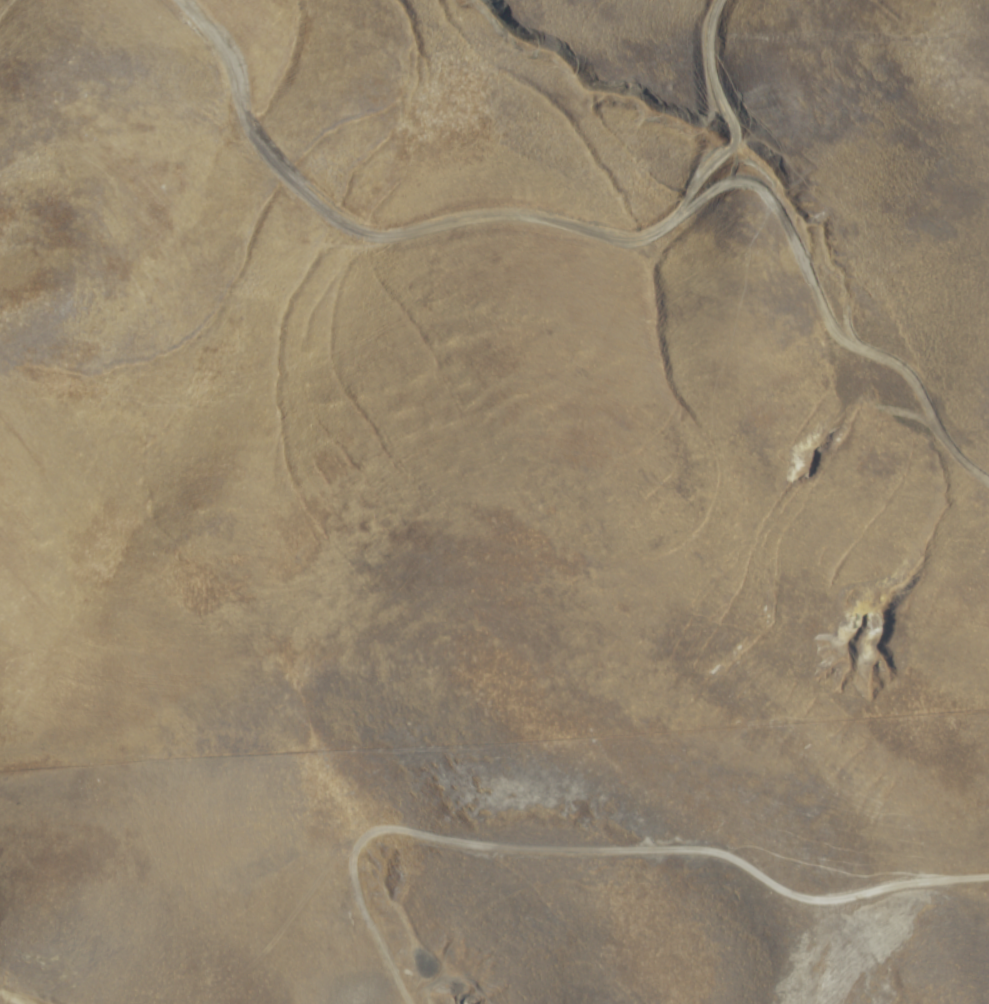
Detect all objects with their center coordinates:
road: (492, 219)
road: (828, 333)

